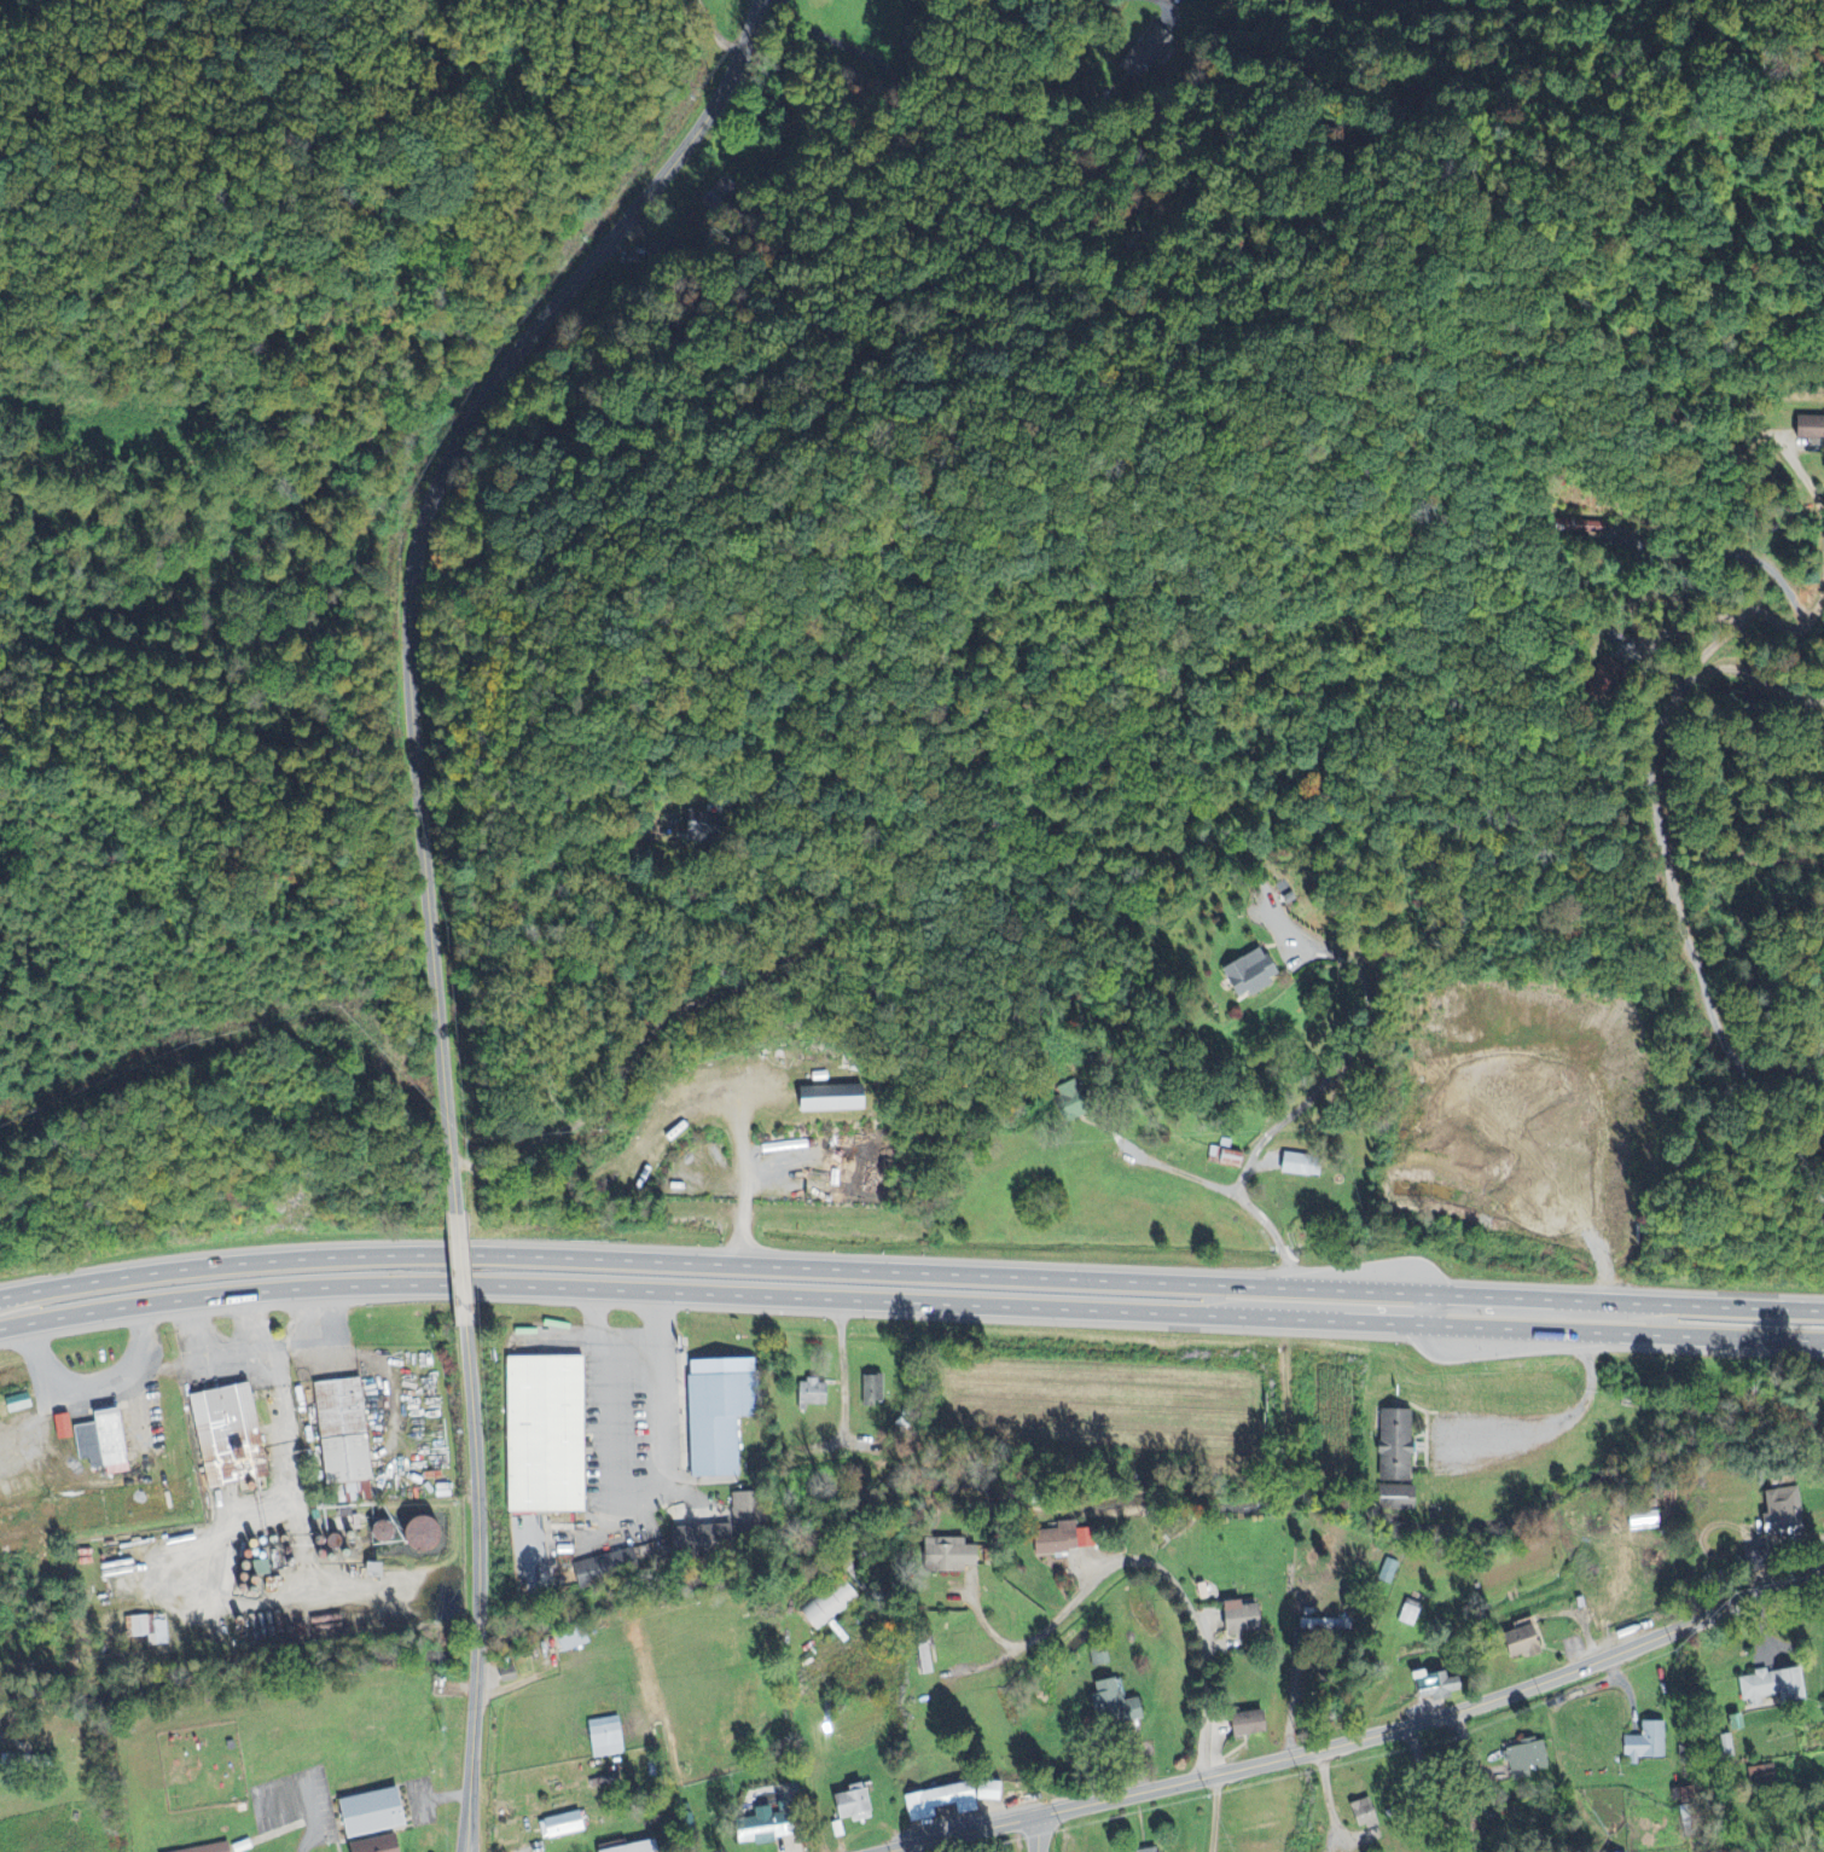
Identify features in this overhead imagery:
road: (1164, 2)
building: (1148, 53)
road: (949, 138)
building: (718, 195)
building: (681, 249)
building: (1807, 428)
road: (1803, 471)
road: (412, 555)
road: (1752, 613)
building: (702, 831)
road: (1671, 883)
road: (778, 965)
building: (1245, 975)
road: (1349, 1044)
building: (830, 1099)
building: (1071, 1102)
building: (1226, 1157)
road: (1202, 1175)
road: (910, 1265)
road: (463, 1270)
road: (910, 1306)
road: (255, 1320)
road: (623, 1336)
road: (255, 1347)
building: (872, 1392)
building: (818, 1394)
building: (24, 1403)
building: (725, 1413)
building: (546, 1436)
building: (232, 1438)
building: (104, 1440)
building: (348, 1440)
building: (1393, 1462)
building: (1781, 1514)
building: (1640, 1521)
building: (731, 1526)
building: (1062, 1539)
building: (946, 1555)
building: (627, 1563)
building: (382, 1571)
road: (1177, 1584)
road: (476, 1587)
building: (829, 1607)
building: (1237, 1620)
building: (1323, 1625)
building: (151, 1629)
building: (576, 1639)
building: (1518, 1643)
building: (924, 1655)
building: (1098, 1657)
building: (1773, 1685)
building: (1434, 1686)
building: (1109, 1705)
building: (1244, 1724)
building: (604, 1738)
road: (1363, 1741)
building: (1646, 1744)
building: (1727, 1747)
building: (1766, 1775)
road: (1474, 1784)
building: (984, 1792)
road: (441, 1796)
building: (937, 1802)
building: (850, 1804)
building: (379, 1813)
road: (1215, 1813)
building: (1360, 1813)
road: (315, 1821)
building: (559, 1825)
building: (754, 1828)
road: (1040, 1834)
building: (385, 1845)
building: (214, 1848)
building: (631, 1848)
building: (1150, 1850)

